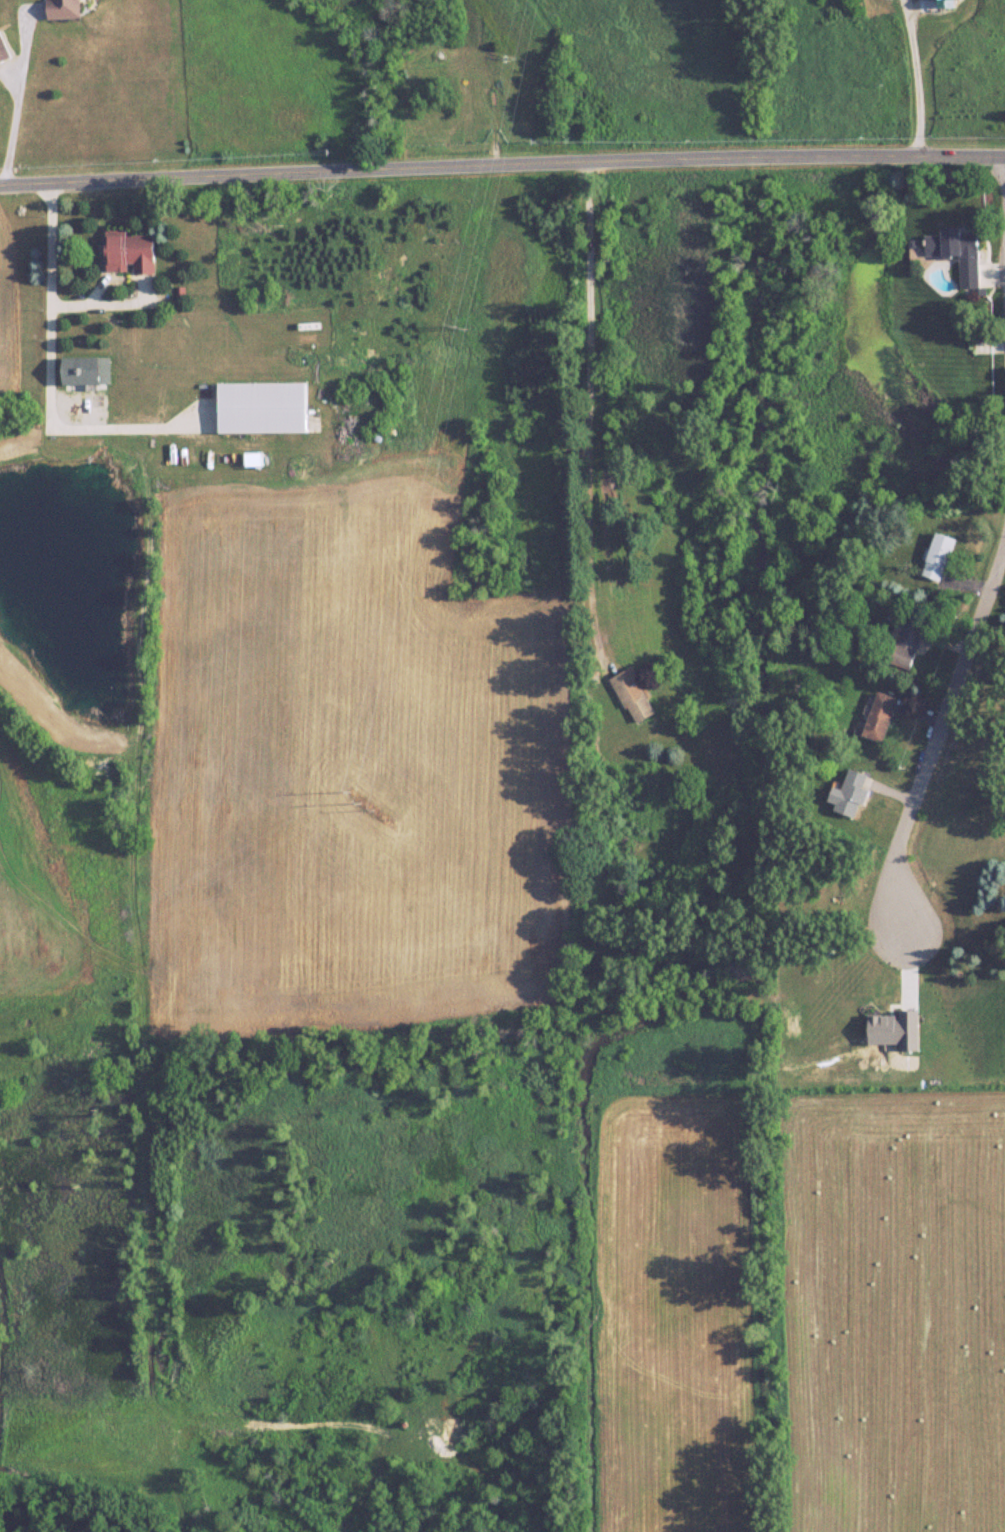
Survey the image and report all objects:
building: (944, 4)
building: (65, 9)
building: (4, 50)
road: (918, 83)
road: (18, 100)
road: (502, 165)
building: (131, 251)
building: (956, 251)
power tower: (462, 322)
road: (61, 362)
building: (87, 368)
building: (265, 406)
road: (581, 408)
building: (940, 555)
building: (910, 642)
building: (634, 694)
building: (881, 716)
road: (936, 728)
building: (850, 793)
power tower: (358, 801)

